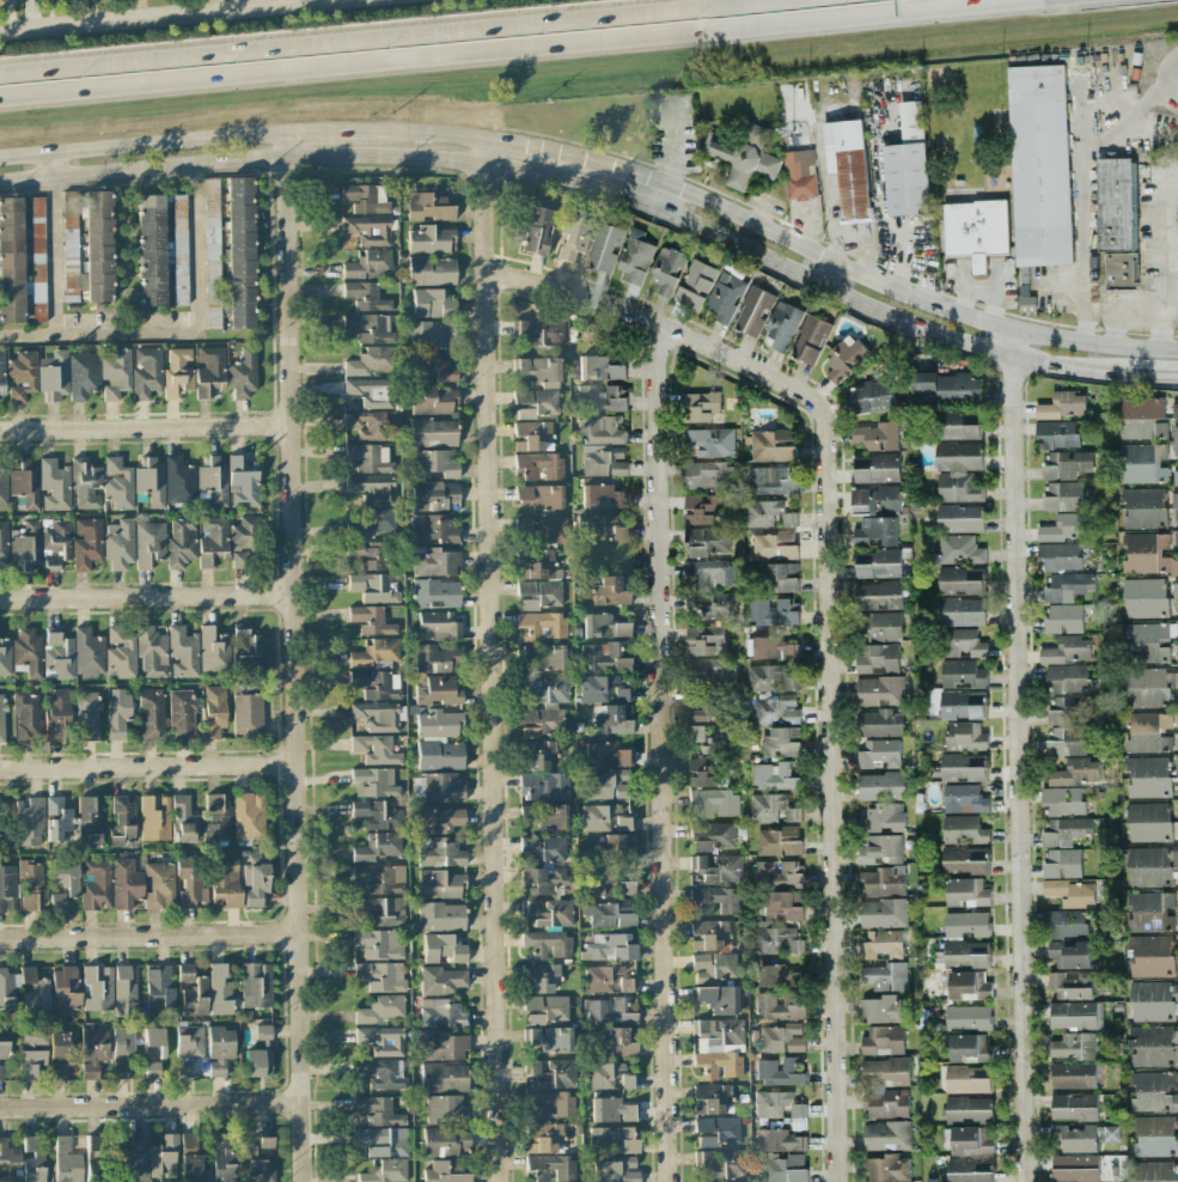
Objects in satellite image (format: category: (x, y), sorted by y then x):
building: (1, 2)
road: (171, 16)
road: (361, 35)
road: (538, 49)
railway: (588, 75)
road: (1159, 91)
road: (1111, 129)
road: (324, 132)
road: (454, 140)
road: (141, 145)
road: (1079, 160)
road: (267, 164)
building: (907, 165)
building: (1039, 165)
road: (55, 166)
building: (848, 166)
building: (799, 175)
building: (366, 199)
road: (660, 199)
building: (1113, 203)
building: (428, 207)
road: (826, 208)
building: (368, 230)
building: (976, 230)
building: (537, 231)
road: (1166, 232)
building: (573, 237)
building: (431, 240)
building: (69, 245)
building: (97, 246)
building: (605, 248)
building: (179, 250)
building: (149, 251)
building: (212, 252)
building: (240, 252)
road: (56, 256)
building: (635, 256)
building: (36, 257)
building: (11, 260)
building: (368, 264)
building: (667, 269)
building: (1121, 270)
building: (432, 272)
road: (853, 275)
building: (700, 276)
road: (1084, 286)
road: (1052, 287)
road: (825, 291)
building: (365, 297)
building: (726, 297)
building: (689, 298)
building: (433, 304)
building: (1027, 304)
road: (1141, 309)
building: (753, 311)
building: (781, 327)
building: (370, 328)
road: (1115, 328)
road: (1161, 329)
road: (178, 331)
building: (538, 331)
road: (1087, 331)
building: (432, 335)
building: (810, 339)
building: (842, 359)
building: (368, 361)
building: (437, 368)
building: (599, 368)
building: (537, 371)
building: (147, 372)
building: (208, 372)
building: (2, 373)
building: (115, 373)
building: (243, 373)
road: (1152, 373)
building: (20, 376)
building: (53, 376)
building: (83, 376)
building: (175, 376)
building: (947, 386)
building: (371, 392)
building: (869, 396)
building: (602, 398)
building: (434, 401)
building: (535, 403)
building: (1062, 406)
building: (700, 407)
building: (1174, 410)
building: (1142, 418)
road: (145, 426)
building: (371, 426)
building: (958, 426)
building: (602, 431)
building: (433, 433)
building: (1056, 433)
building: (878, 435)
building: (532, 437)
building: (1174, 440)
building: (710, 441)
building: (771, 445)
building: (370, 458)
building: (603, 461)
building: (1142, 463)
building: (435, 464)
building: (1067, 465)
building: (538, 467)
building: (877, 468)
building: (958, 471)
building: (708, 475)
building: (1174, 477)
building: (769, 480)
building: (151, 481)
building: (179, 481)
building: (214, 481)
building: (25, 482)
building: (85, 482)
building: (243, 482)
building: (117, 483)
building: (56, 486)
building: (4, 488)
building: (373, 489)
building: (435, 496)
building: (541, 496)
building: (600, 496)
building: (1062, 496)
building: (875, 500)
building: (1174, 507)
building: (701, 508)
building: (1142, 508)
building: (768, 513)
building: (959, 518)
building: (371, 523)
building: (1064, 528)
building: (433, 530)
building: (875, 530)
building: (1176, 538)
building: (212, 541)
building: (245, 541)
building: (708, 541)
building: (4, 542)
building: (149, 542)
building: (24, 543)
building: (55, 543)
building: (120, 543)
building: (181, 543)
building: (87, 544)
building: (773, 546)
building: (960, 549)
building: (370, 554)
building: (1147, 554)
building: (1058, 556)
building: (435, 562)
building: (878, 563)
building: (538, 566)
building: (710, 572)
building: (783, 577)
building: (959, 580)
building: (1068, 586)
building: (372, 587)
building: (606, 592)
building: (435, 593)
building: (539, 595)
building: (878, 595)
road: (147, 596)
building: (1145, 597)
building: (1176, 597)
building: (713, 604)
road: (829, 611)
building: (960, 611)
building: (771, 613)
building: (1063, 619)
building: (371, 621)
building: (438, 627)
building: (542, 627)
building: (603, 627)
building: (883, 627)
building: (1146, 639)
building: (704, 640)
building: (960, 642)
building: (770, 647)
building: (1067, 650)
building: (121, 651)
building: (152, 651)
building: (184, 652)
building: (214, 652)
building: (248, 653)
building: (29, 654)
building: (88, 654)
building: (376, 654)
road: (294, 656)
building: (57, 657)
building: (545, 657)
building: (604, 657)
building: (1176, 657)
building: (5, 658)
building: (875, 658)
building: (435, 659)
road: (492, 662)
building: (715, 671)
building: (962, 674)
building: (770, 678)
building: (1066, 678)
building: (377, 684)
building: (1149, 687)
building: (600, 689)
building: (544, 690)
building: (879, 690)
building: (438, 691)
building: (702, 705)
building: (962, 705)
building: (213, 708)
building: (776, 709)
building: (56, 711)
building: (1063, 711)
building: (182, 713)
building: (117, 714)
building: (151, 714)
building: (248, 714)
building: (87, 715)
building: (2, 717)
building: (25, 717)
building: (377, 717)
building: (1177, 717)
building: (611, 720)
building: (541, 721)
building: (879, 723)
building: (1147, 732)
building: (714, 737)
building: (964, 737)
building: (439, 741)
building: (1066, 741)
building: (782, 742)
building: (1177, 745)
building: (376, 750)
road: (661, 753)
building: (879, 754)
building: (605, 755)
building: (537, 756)
road: (1017, 756)
building: (963, 767)
road: (147, 768)
building: (1075, 772)
building: (704, 773)
building: (774, 775)
building: (1147, 776)
building: (1177, 776)
building: (374, 782)
building: (610, 785)
building: (880, 786)
building: (417, 787)
building: (544, 787)
building: (442, 788)
building: (964, 799)
building: (1062, 800)
building: (714, 802)
building: (765, 806)
building: (373, 814)
building: (543, 815)
building: (249, 816)
building: (56, 818)
building: (91, 818)
building: (154, 818)
building: (183, 818)
building: (603, 818)
building: (881, 818)
building: (439, 820)
building: (121, 822)
building: (216, 822)
building: (1148, 822)
building: (28, 823)
building: (1177, 823)
building: (964, 829)
building: (4, 834)
building: (712, 835)
building: (777, 841)
building: (614, 843)
building: (379, 847)
building: (542, 848)
building: (879, 848)
building: (439, 853)
building: (964, 860)
building: (1150, 866)
building: (718, 867)
building: (776, 873)
building: (380, 878)
building: (225, 881)
building: (255, 881)
building: (544, 881)
building: (881, 881)
building: (61, 882)
building: (190, 882)
building: (124, 883)
building: (440, 884)
building: (600, 884)
building: (31, 885)
building: (96, 885)
building: (159, 885)
building: (7, 888)
building: (625, 888)
building: (968, 891)
building: (1070, 891)
building: (714, 901)
building: (781, 907)
building: (379, 912)
building: (1147, 912)
building: (550, 913)
building: (883, 913)
building: (609, 914)
building: (441, 916)
building: (966, 924)
building: (1064, 924)
building: (708, 934)
road: (149, 936)
building: (773, 942)
building: (883, 943)
building: (378, 944)
building: (547, 945)
building: (609, 948)
building: (444, 949)
building: (965, 953)
building: (1068, 953)
building: (1150, 956)
building: (714, 967)
building: (185, 973)
building: (28, 975)
building: (379, 976)
building: (777, 976)
building: (884, 976)
building: (542, 977)
building: (609, 979)
building: (442, 981)
building: (1069, 985)
building: (256, 986)
building: (969, 986)
building: (65, 988)
building: (97, 988)
building: (159, 988)
building: (5, 991)
building: (219, 991)
building: (124, 993)
building: (42, 994)
building: (195, 998)
building: (718, 999)
building: (1153, 1001)
building: (777, 1006)
building: (545, 1009)
building: (883, 1009)
building: (380, 1010)
building: (608, 1011)
building: (441, 1013)
building: (1075, 1015)
building: (968, 1017)
building: (263, 1032)
building: (32, 1037)
building: (781, 1037)
building: (547, 1038)
building: (883, 1040)
building: (382, 1041)
building: (154, 1042)
building: (618, 1043)
building: (59, 1046)
building: (188, 1046)
building: (442, 1046)
building: (1073, 1046)
building: (1152, 1046)
building: (718, 1048)
building: (970, 1048)
building: (122, 1050)
building: (219, 1050)
building: (93, 1052)
building: (2, 1055)
building: (257, 1062)
building: (30, 1064)
building: (152, 1070)
building: (779, 1071)
building: (57, 1072)
building: (885, 1072)
building: (383, 1073)
building: (551, 1073)
building: (608, 1076)
building: (1073, 1076)
building: (444, 1078)
building: (968, 1079)
building: (1153, 1091)
building: (714, 1098)
building: (885, 1103)
building: (775, 1104)
road: (151, 1105)
building: (551, 1105)
building: (1074, 1107)
building: (969, 1109)
building: (446, 1110)
building: (611, 1110)
building: (378, 1111)
building: (718, 1132)
building: (886, 1135)
building: (1153, 1135)
building: (542, 1138)
building: (1075, 1139)
building: (627, 1140)
building: (780, 1140)
building: (969, 1140)
building: (136, 1141)
building: (383, 1141)
building: (444, 1141)
building: (94, 1154)
building: (222, 1157)
building: (8, 1158)
building: (163, 1158)
building: (32, 1160)
building: (66, 1160)
building: (193, 1160)
building: (261, 1160)
building: (721, 1163)
building: (550, 1168)
building: (886, 1168)
building: (1074, 1168)
building: (132, 1169)
building: (786, 1169)
building: (616, 1170)
building: (969, 1170)
building: (1154, 1171)
building: (385, 1172)
building: (442, 1174)

